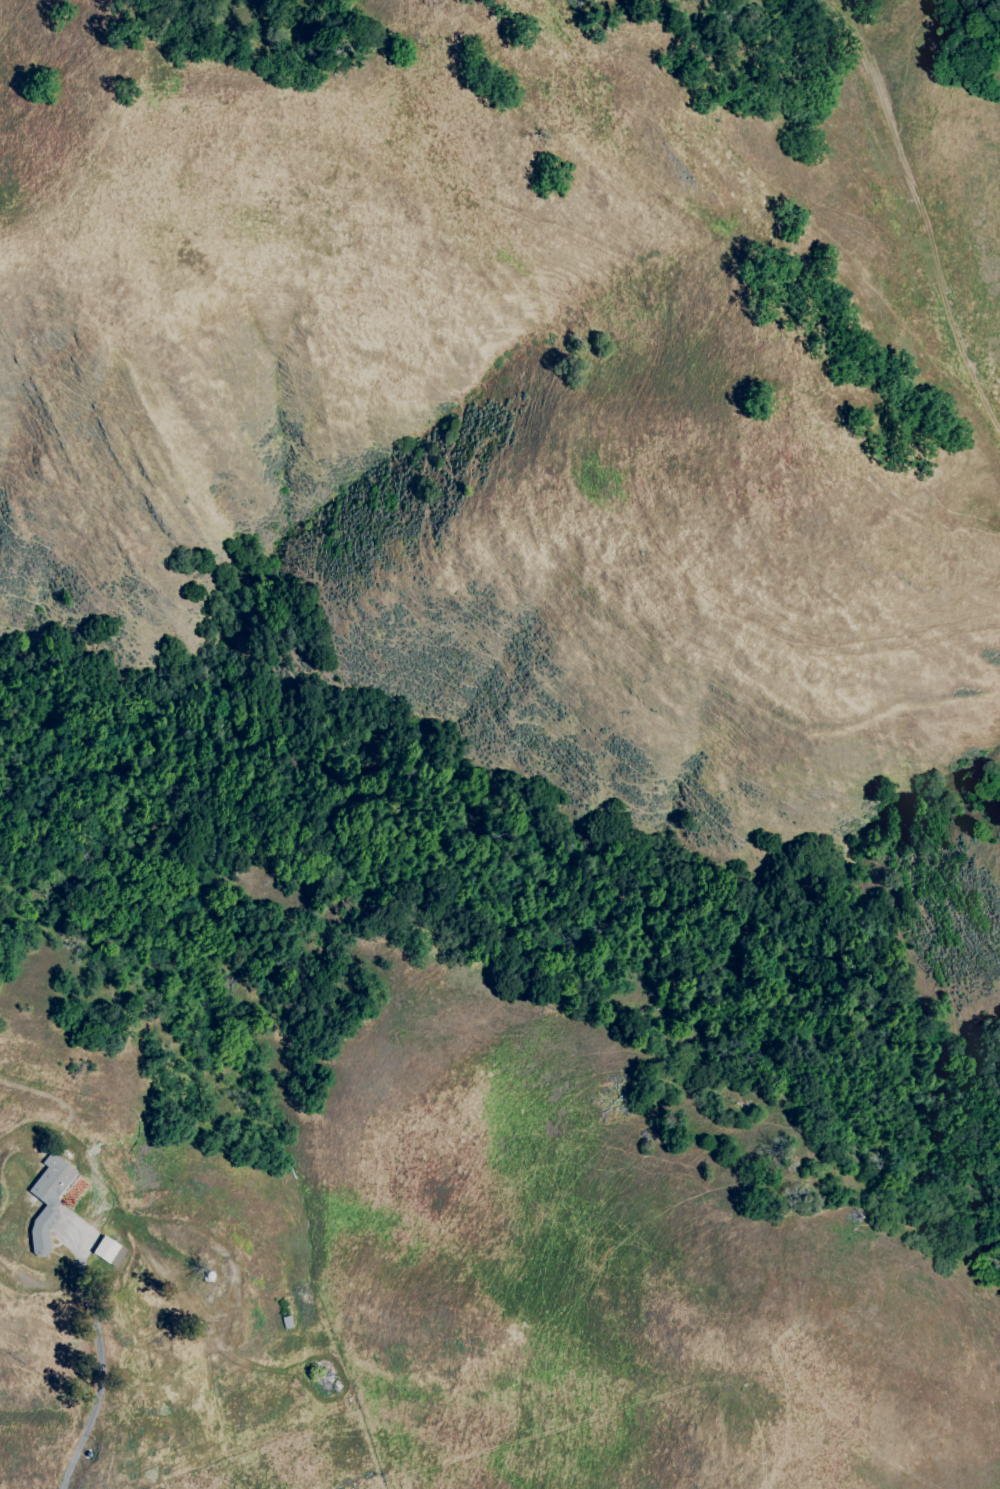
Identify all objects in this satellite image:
building: (47, 1201)
building: (108, 1251)
road: (100, 1374)

